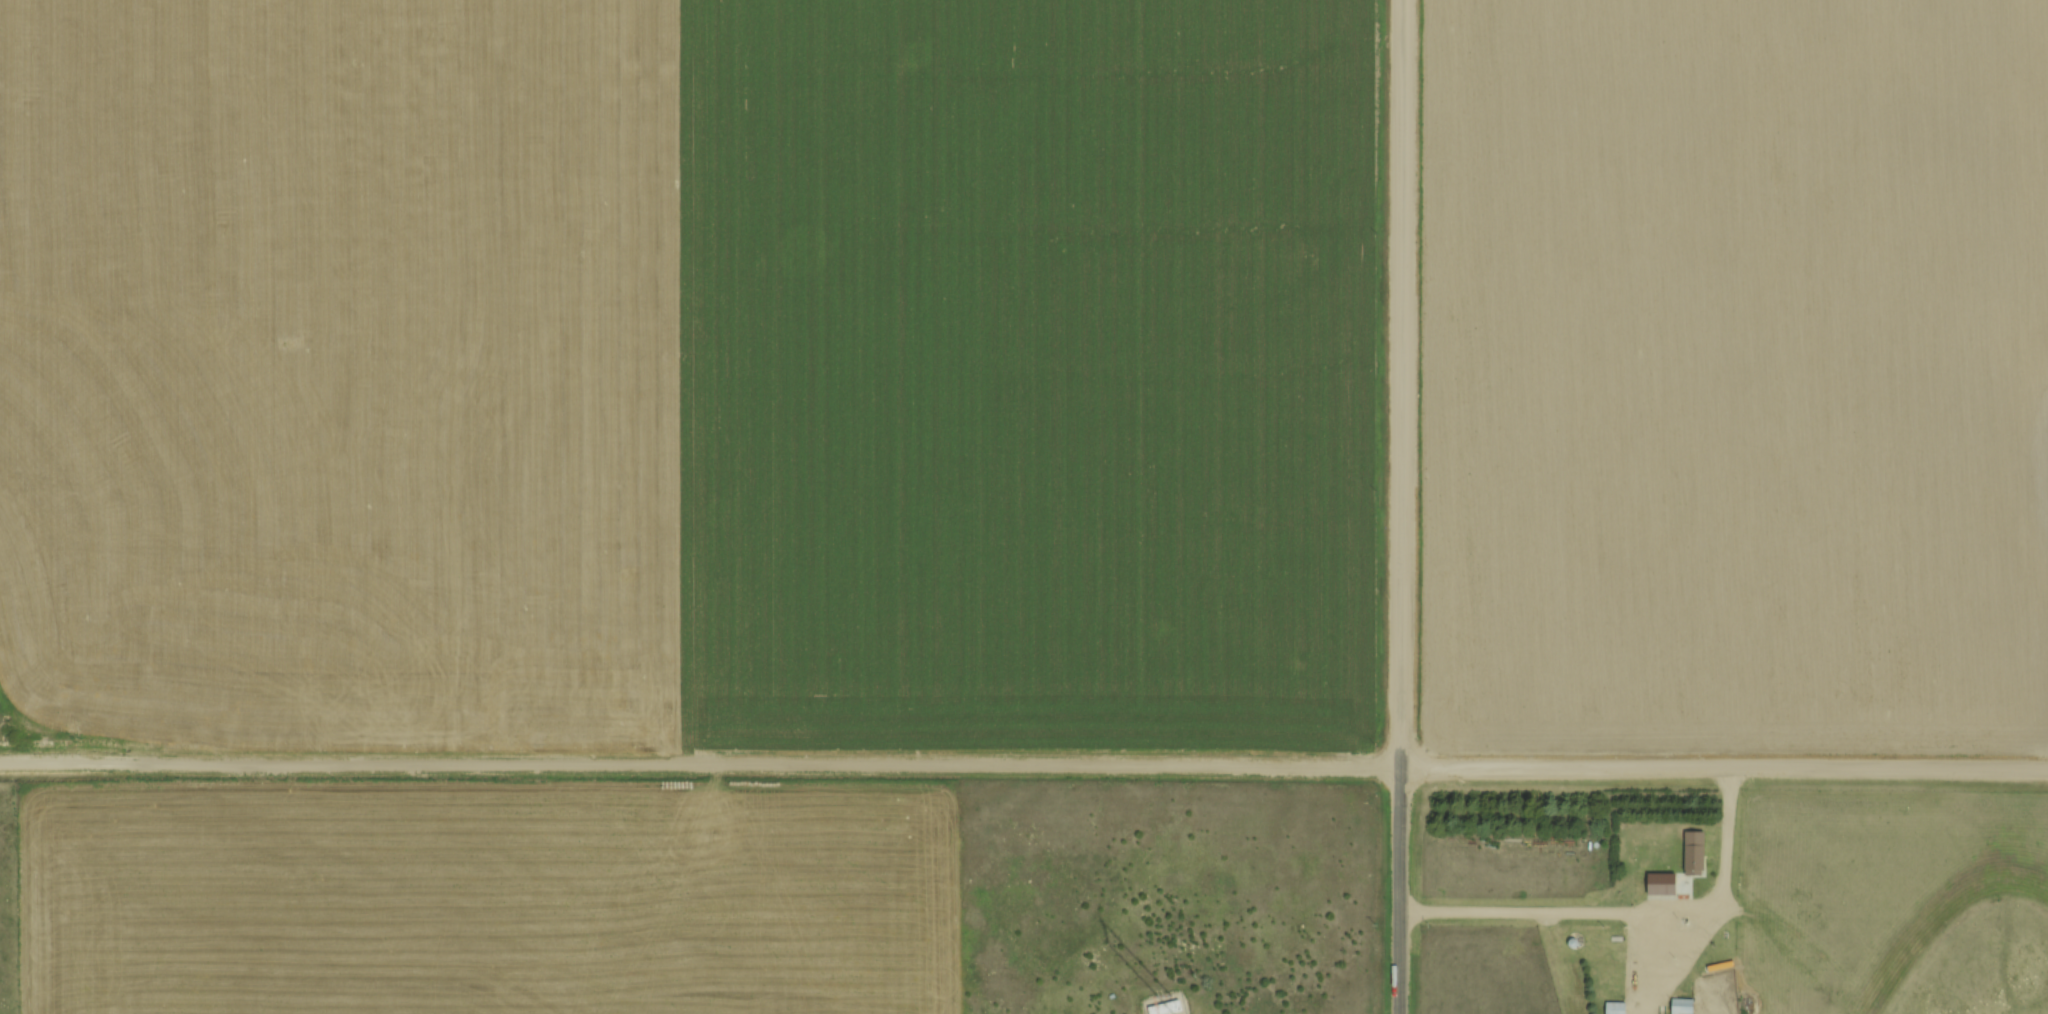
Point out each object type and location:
road: (1400, 384)
road: (699, 762)
road: (1723, 767)
building: (1696, 851)
building: (1646, 888)
road: (1397, 891)
crop: (488, 898)
road: (1624, 910)
building: (1683, 1005)
building: (1166, 1007)
building: (1617, 1007)

